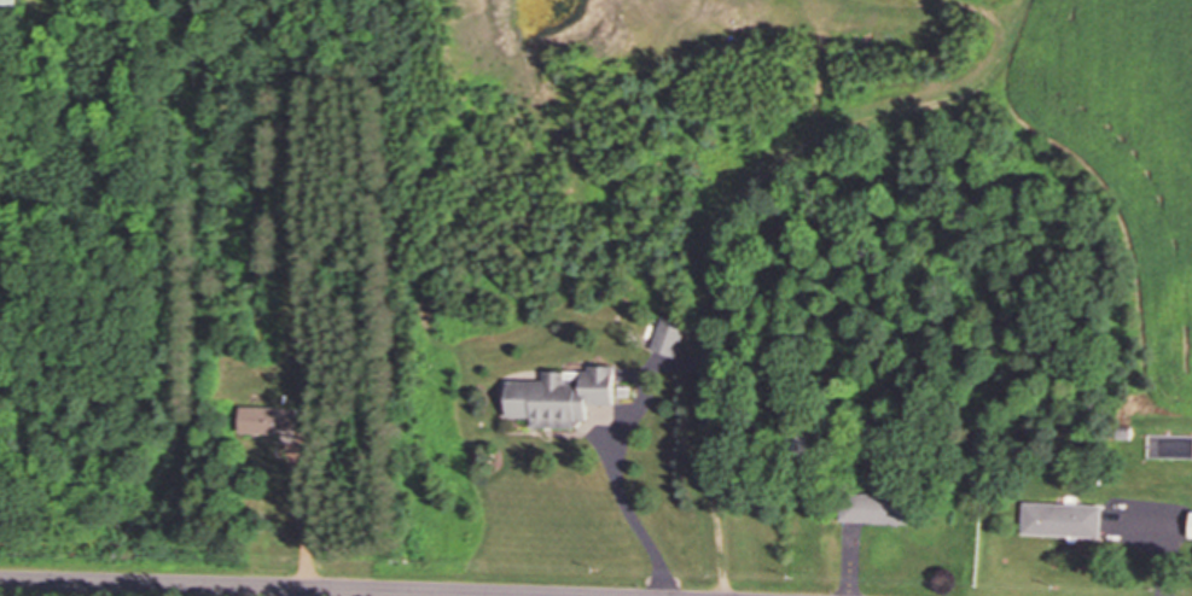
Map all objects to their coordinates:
building: (11, 2)
building: (671, 337)
building: (569, 397)
building: (275, 420)
building: (870, 507)
building: (1059, 519)
building: (1188, 526)
road: (260, 588)

